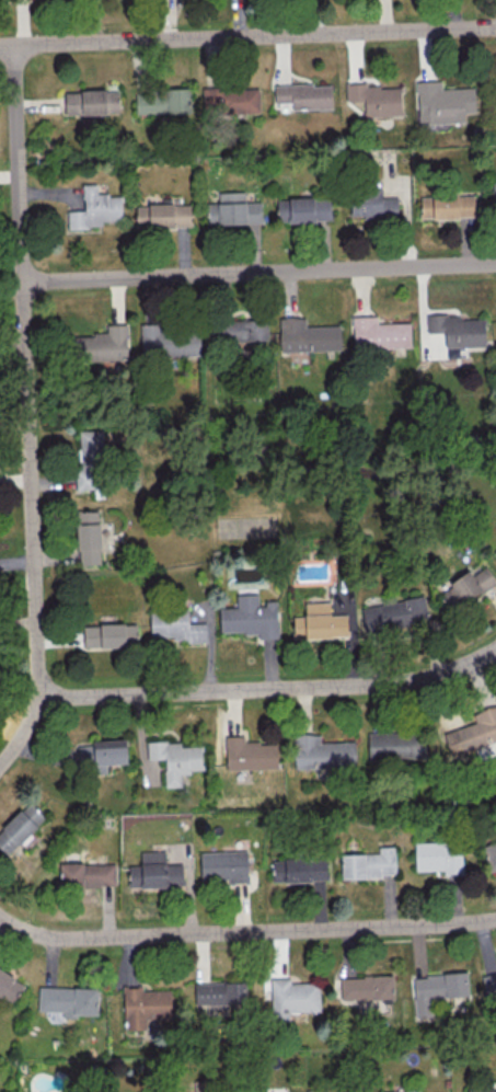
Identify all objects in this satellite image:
road: (247, 36)
building: (304, 95)
building: (374, 97)
building: (230, 100)
building: (91, 101)
building: (162, 101)
building: (442, 102)
building: (494, 192)
building: (373, 204)
building: (447, 206)
building: (95, 208)
building: (233, 209)
building: (303, 209)
road: (20, 210)
building: (163, 215)
road: (259, 272)
building: (457, 329)
building: (244, 330)
building: (379, 333)
building: (308, 335)
building: (168, 342)
building: (102, 344)
road: (26, 394)
building: (90, 460)
building: (88, 537)
building: (495, 551)
building: (465, 587)
road: (35, 595)
building: (394, 614)
building: (250, 617)
building: (319, 622)
building: (174, 625)
building: (109, 635)
road: (270, 688)
building: (473, 732)
building: (396, 745)
building: (322, 752)
building: (102, 754)
building: (250, 754)
building: (175, 759)
building: (19, 827)
building: (489, 853)
building: (438, 855)
building: (369, 863)
building: (223, 865)
building: (299, 869)
building: (154, 871)
building: (85, 875)
road: (245, 931)
building: (489, 985)
building: (9, 986)
building: (366, 987)
building: (437, 989)
building: (219, 992)
building: (292, 997)
building: (68, 1000)
building: (145, 1005)
building: (205, 1085)
building: (482, 1090)
building: (415, 1091)

